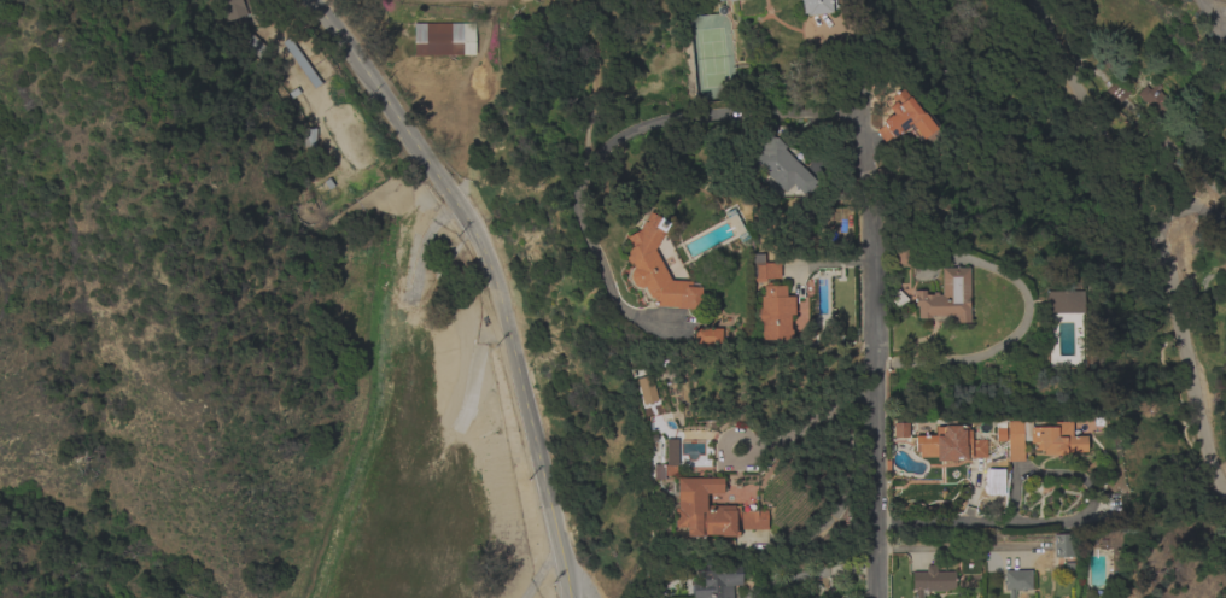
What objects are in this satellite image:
building: (719, 0)
building: (817, 6)
building: (234, 8)
road: (1210, 14)
road: (433, 20)
road: (1222, 30)
building: (444, 39)
building: (300, 61)
building: (1116, 89)
building: (1152, 93)
building: (904, 117)
road: (614, 136)
building: (310, 137)
building: (784, 168)
road: (1190, 215)
road: (1169, 228)
building: (901, 254)
building: (656, 268)
building: (765, 268)
road: (491, 277)
building: (946, 297)
building: (1063, 301)
road: (1023, 309)
building: (776, 312)
building: (708, 336)
road: (875, 341)
building: (644, 389)
road: (813, 424)
building: (1000, 432)
building: (1043, 439)
building: (950, 444)
road: (722, 451)
building: (670, 452)
building: (662, 470)
building: (711, 510)
road: (982, 523)
building: (1063, 545)
road: (808, 573)
building: (1017, 580)
building: (718, 581)
building: (932, 581)
road: (578, 582)

